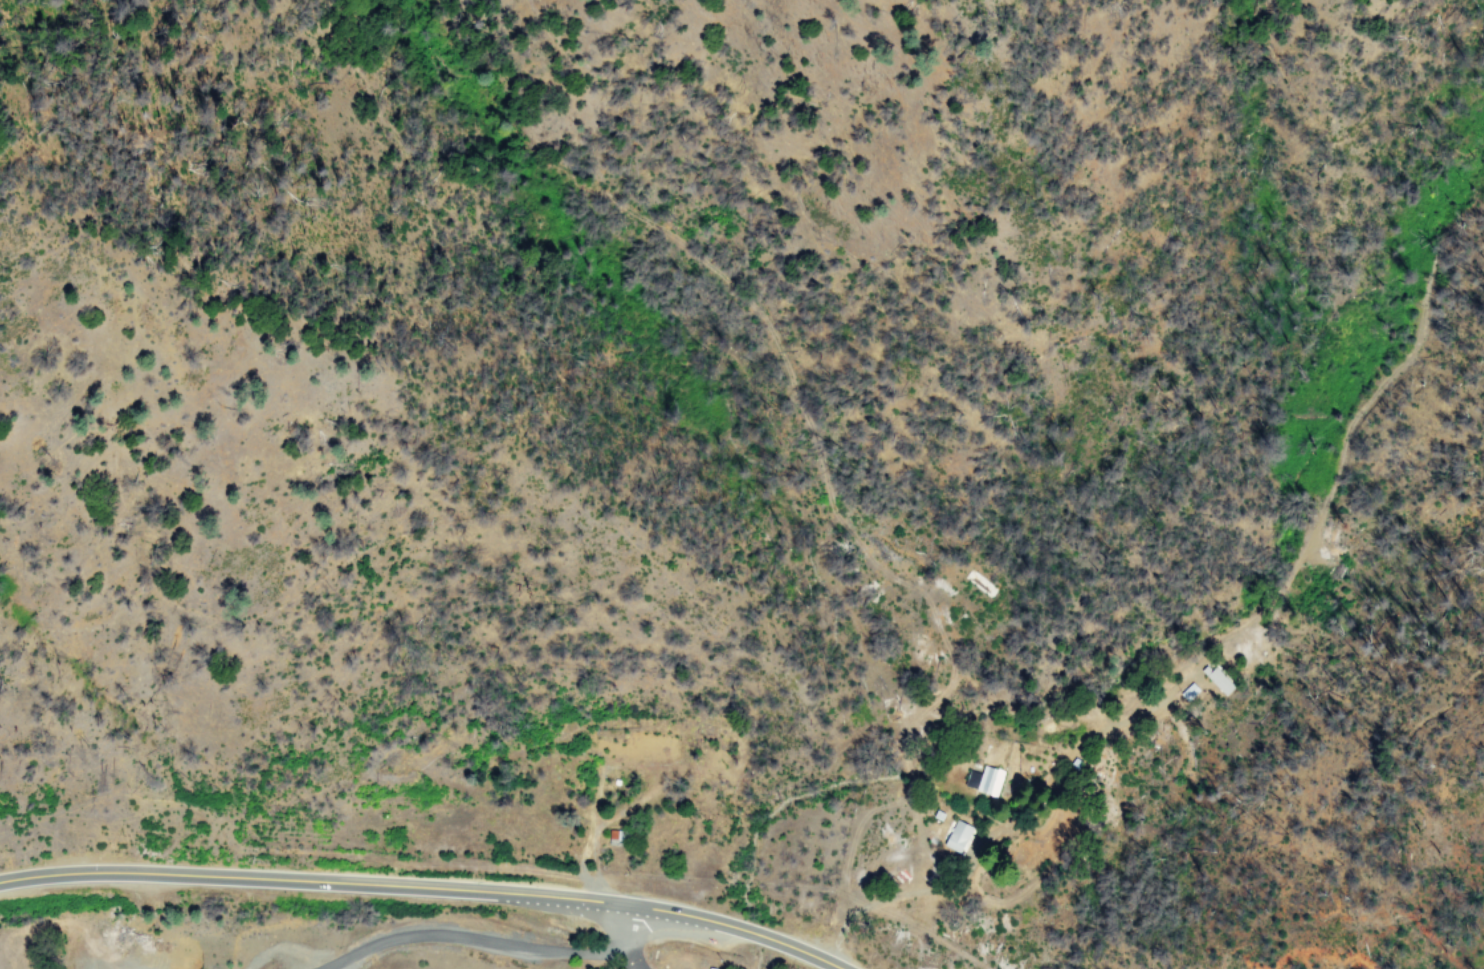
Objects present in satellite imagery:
building: (1218, 680)
building: (1190, 692)
building: (985, 780)
building: (958, 836)
road: (425, 887)

